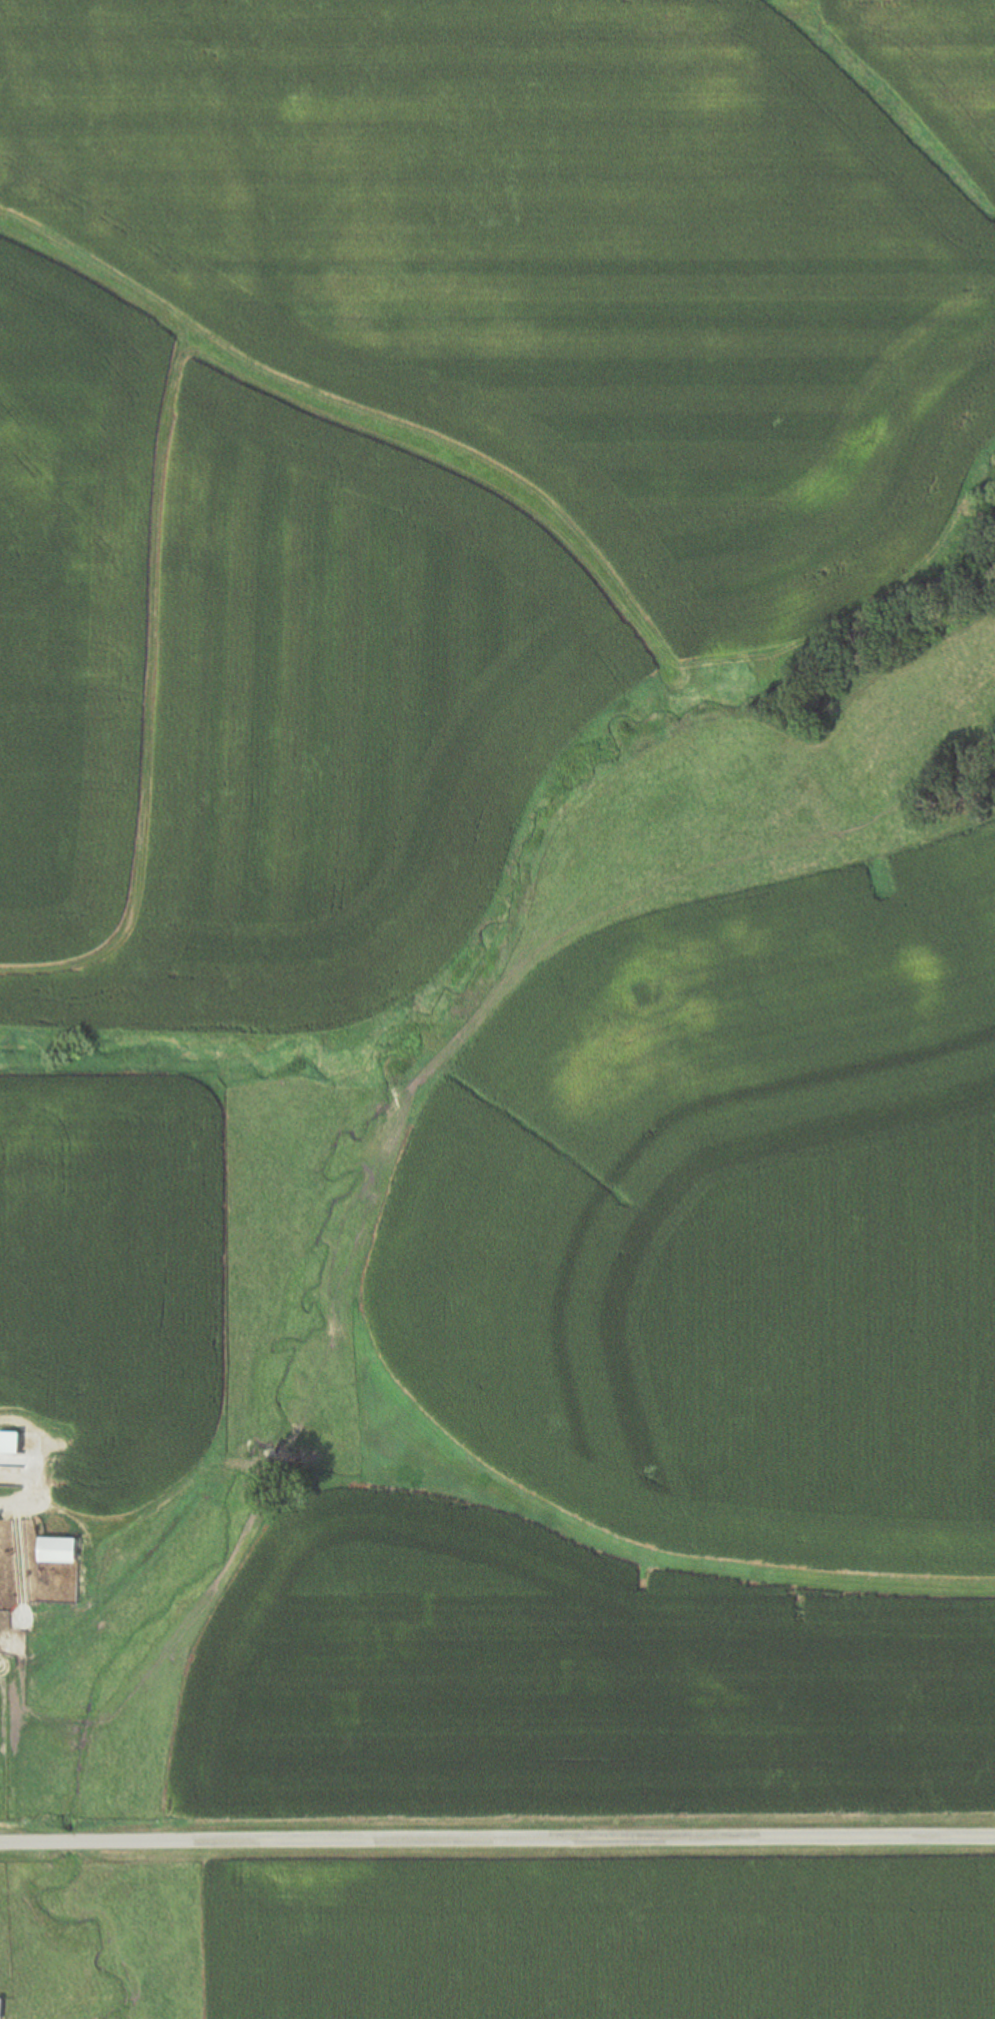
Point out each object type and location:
building: (57, 1551)
road: (497, 1838)

